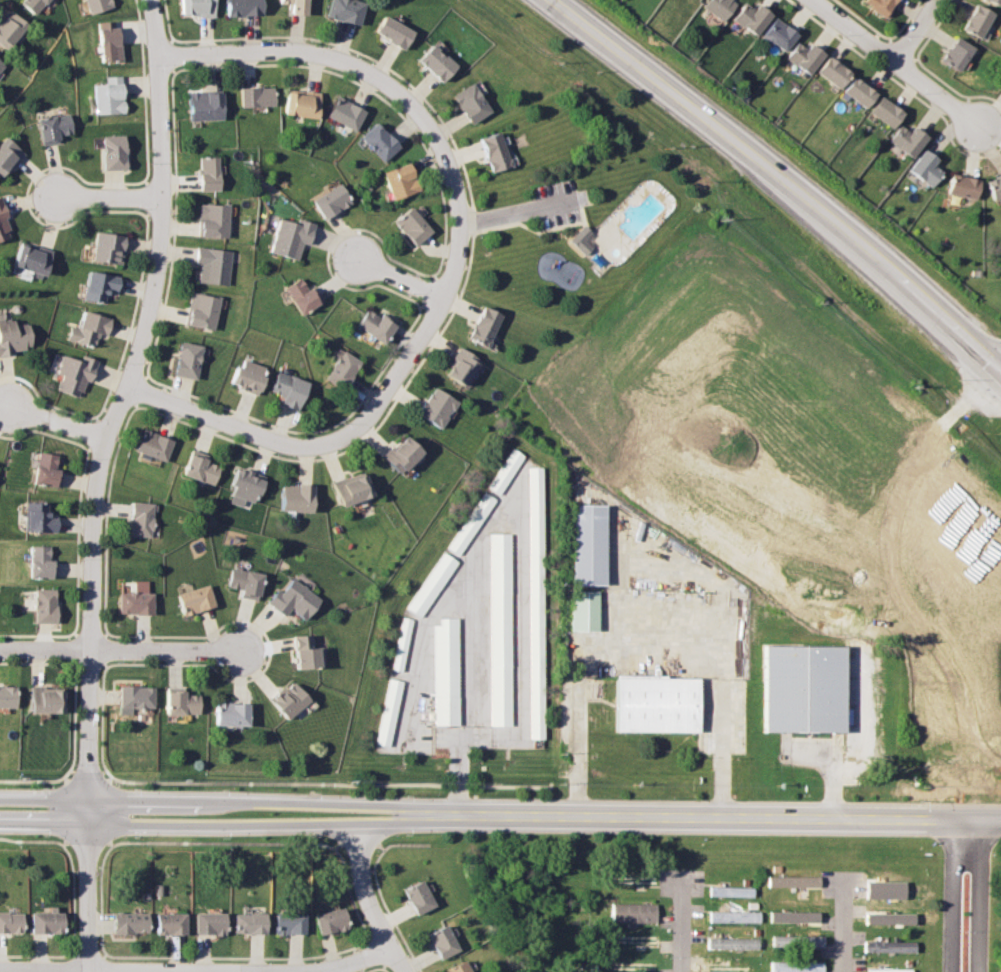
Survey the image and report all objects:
building: (996, 2)
building: (35, 5)
building: (99, 5)
building: (296, 6)
building: (720, 7)
building: (882, 7)
building: (198, 8)
building: (245, 8)
building: (347, 10)
building: (754, 17)
building: (977, 21)
building: (11, 29)
road: (915, 30)
building: (396, 31)
building: (781, 34)
building: (111, 41)
building: (958, 54)
building: (806, 57)
building: (439, 63)
road: (898, 63)
building: (1, 65)
building: (0, 70)
building: (835, 73)
road: (395, 83)
building: (861, 92)
building: (110, 96)
building: (258, 97)
building: (474, 103)
building: (304, 105)
building: (207, 106)
building: (888, 112)
building: (347, 114)
building: (56, 127)
building: (910, 140)
building: (382, 142)
building: (497, 152)
building: (115, 153)
building: (9, 155)
building: (927, 168)
building: (210, 174)
road: (780, 177)
building: (403, 181)
building: (965, 187)
building: (994, 188)
road: (108, 195)
building: (333, 201)
road: (503, 215)
building: (215, 220)
building: (4, 223)
building: (415, 226)
building: (292, 237)
building: (581, 239)
building: (110, 248)
building: (34, 259)
building: (213, 265)
road: (398, 273)
building: (101, 286)
building: (303, 294)
building: (204, 311)
building: (378, 325)
building: (487, 326)
building: (90, 329)
building: (15, 337)
building: (190, 360)
building: (464, 366)
building: (344, 370)
building: (75, 374)
building: (250, 376)
building: (290, 389)
building: (438, 407)
road: (60, 426)
road: (316, 443)
building: (156, 445)
building: (404, 455)
building: (203, 469)
building: (49, 470)
building: (506, 471)
road: (105, 482)
building: (248, 486)
building: (354, 490)
building: (299, 499)
building: (41, 517)
building: (143, 520)
building: (471, 523)
building: (590, 544)
building: (43, 561)
building: (247, 581)
building: (432, 583)
building: (296, 597)
building: (198, 598)
building: (138, 601)
building: (536, 601)
building: (47, 604)
building: (585, 609)
building: (500, 628)
building: (402, 643)
road: (120, 649)
building: (309, 649)
building: (446, 670)
road: (722, 670)
building: (806, 687)
building: (9, 694)
building: (139, 695)
building: (291, 697)
building: (50, 699)
building: (185, 701)
building: (659, 702)
building: (389, 711)
building: (234, 713)
road: (860, 740)
road: (574, 750)
road: (45, 797)
road: (267, 800)
road: (721, 817)
road: (45, 823)
road: (267, 824)
building: (793, 880)
building: (885, 889)
building: (731, 891)
road: (952, 893)
road: (979, 894)
building: (416, 897)
road: (371, 900)
building: (631, 912)
building: (734, 916)
building: (793, 916)
building: (890, 918)
building: (330, 920)
building: (47, 921)
building: (10, 922)
building: (131, 922)
building: (249, 922)
building: (290, 922)
road: (684, 922)
building: (171, 923)
building: (210, 923)
road: (844, 926)
building: (440, 941)
building: (797, 941)
building: (732, 942)
building: (890, 946)
building: (797, 966)
building: (456, 967)
building: (890, 970)
road: (198, 971)

